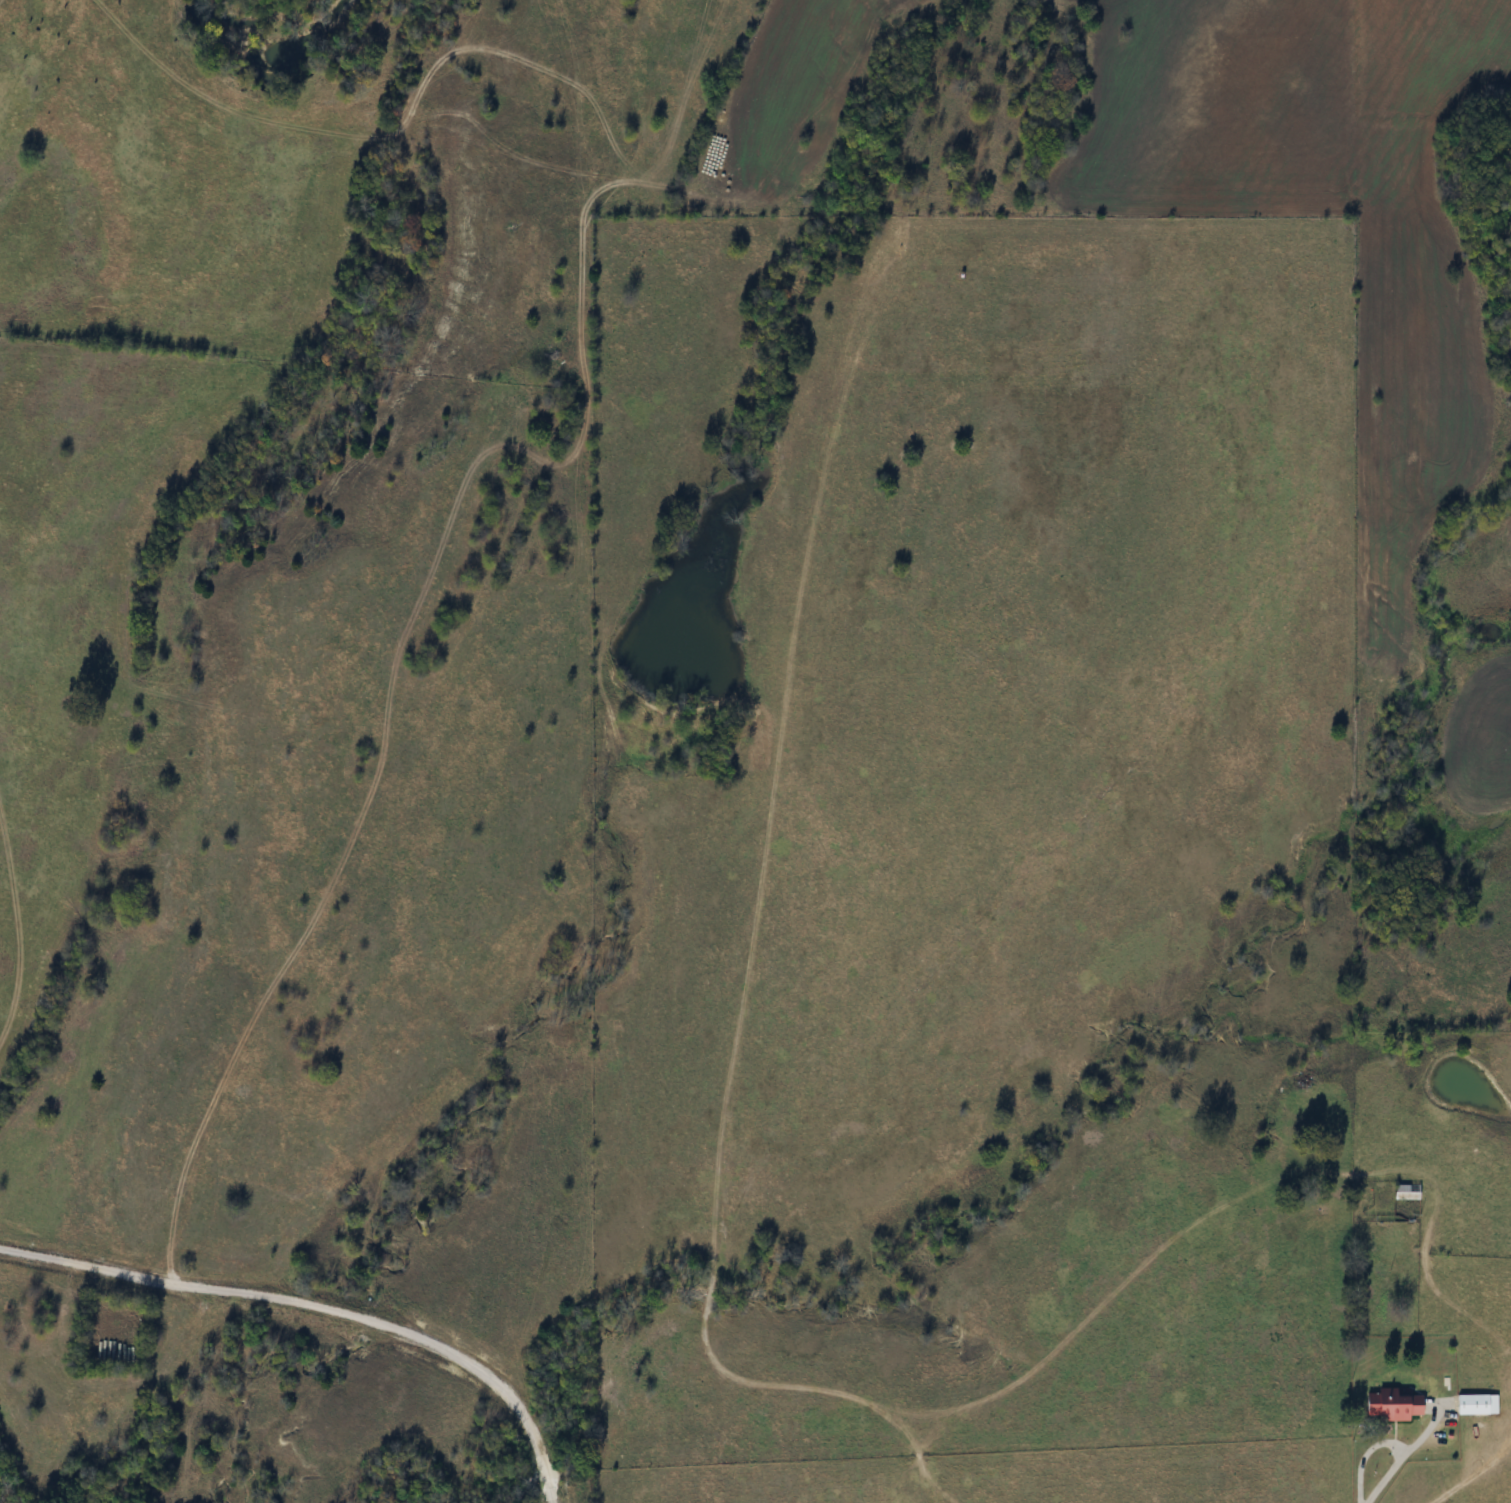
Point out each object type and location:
building: (1407, 1192)
building: (1478, 1404)
building: (1393, 1405)
road: (1391, 1445)

